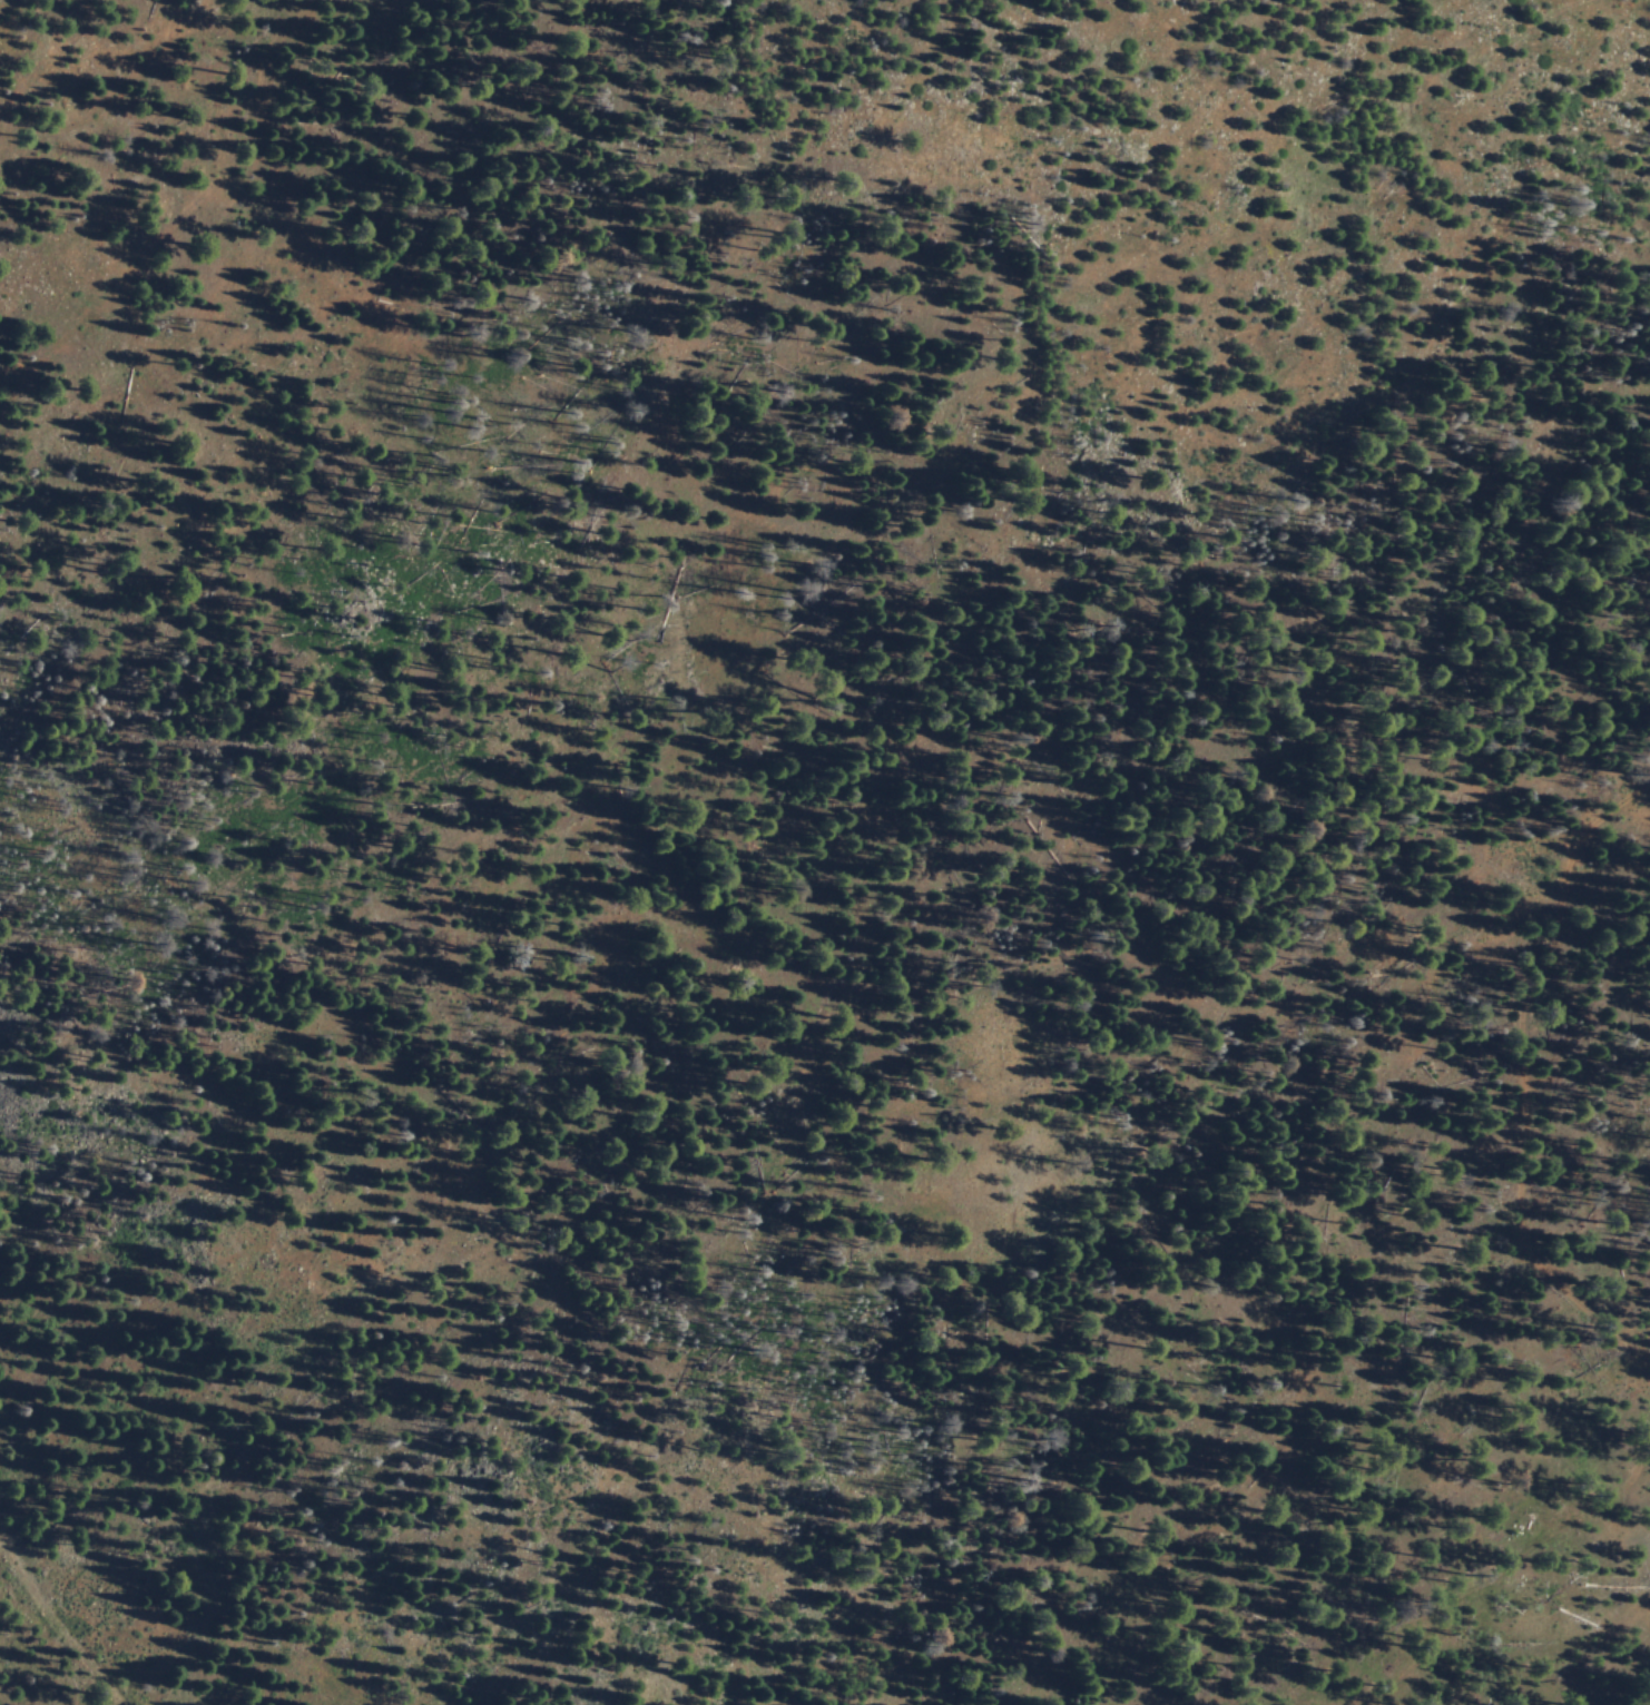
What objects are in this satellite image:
road: (61, 1617)

